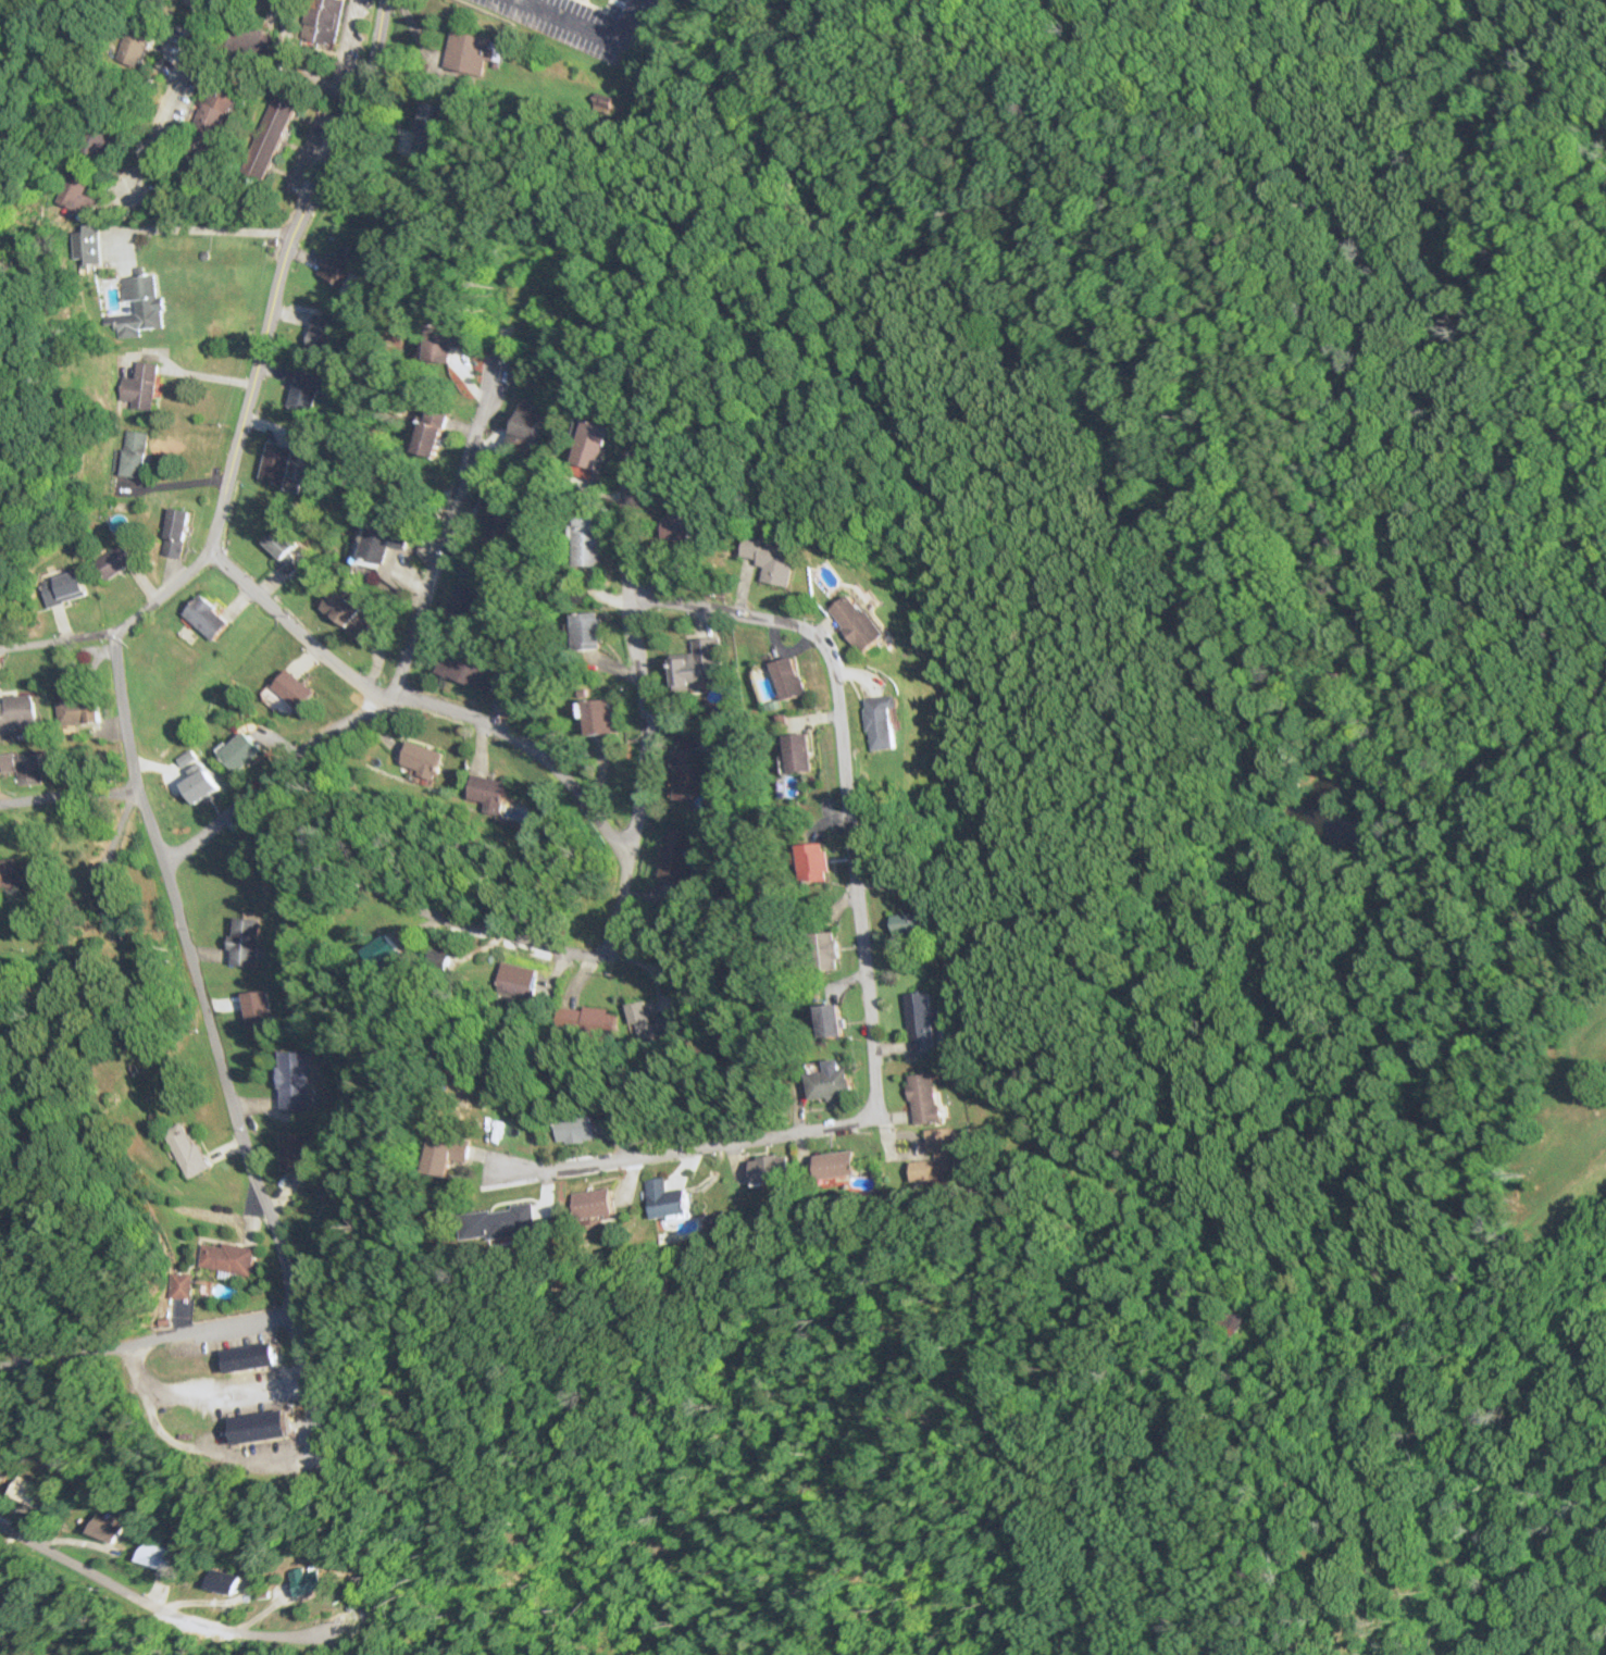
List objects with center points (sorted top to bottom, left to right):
building: (320, 18)
parking lot: (582, 22)
road: (588, 29)
building: (133, 41)
building: (466, 52)
road: (296, 61)
road: (166, 92)
road: (353, 97)
building: (209, 129)
building: (428, 129)
building: (267, 135)
building: (77, 191)
building: (86, 245)
building: (335, 271)
building: (138, 307)
road: (263, 328)
building: (321, 335)
building: (140, 387)
building: (302, 391)
building: (527, 422)
building: (431, 434)
building: (586, 450)
building: (134, 455)
building: (275, 464)
building: (680, 515)
building: (497, 517)
building: (174, 532)
building: (588, 542)
building: (382, 544)
building: (282, 550)
building: (769, 561)
building: (113, 562)
building: (62, 588)
building: (466, 603)
building: (346, 614)
building: (206, 618)
building: (857, 623)
road: (292, 624)
building: (587, 632)
road: (57, 637)
road: (401, 657)
building: (699, 667)
building: (466, 670)
building: (788, 679)
building: (290, 692)
building: (79, 710)
building: (17, 717)
building: (598, 717)
building: (880, 722)
road: (528, 747)
building: (240, 751)
building: (796, 754)
building: (419, 759)
building: (28, 770)
building: (693, 773)
building: (200, 786)
building: (486, 791)
road: (67, 793)
road: (640, 804)
building: (676, 855)
building: (812, 862)
building: (9, 872)
building: (110, 906)
building: (908, 923)
building: (245, 942)
building: (827, 951)
road: (867, 957)
road: (195, 972)
building: (516, 979)
building: (259, 1010)
building: (640, 1017)
building: (829, 1020)
building: (921, 1021)
building: (291, 1080)
building: (829, 1080)
building: (923, 1098)
building: (571, 1127)
building: (186, 1149)
building: (292, 1150)
building: (437, 1152)
building: (935, 1157)
building: (835, 1164)
building: (770, 1168)
building: (664, 1198)
building: (592, 1203)
building: (494, 1219)
building: (225, 1257)
building: (176, 1284)
building: (1229, 1320)
road: (145, 1337)
building: (249, 1357)
road: (235, 1392)
building: (257, 1426)
building: (23, 1491)
building: (100, 1528)
building: (149, 1554)
building: (219, 1580)
building: (301, 1580)
road: (154, 1597)

